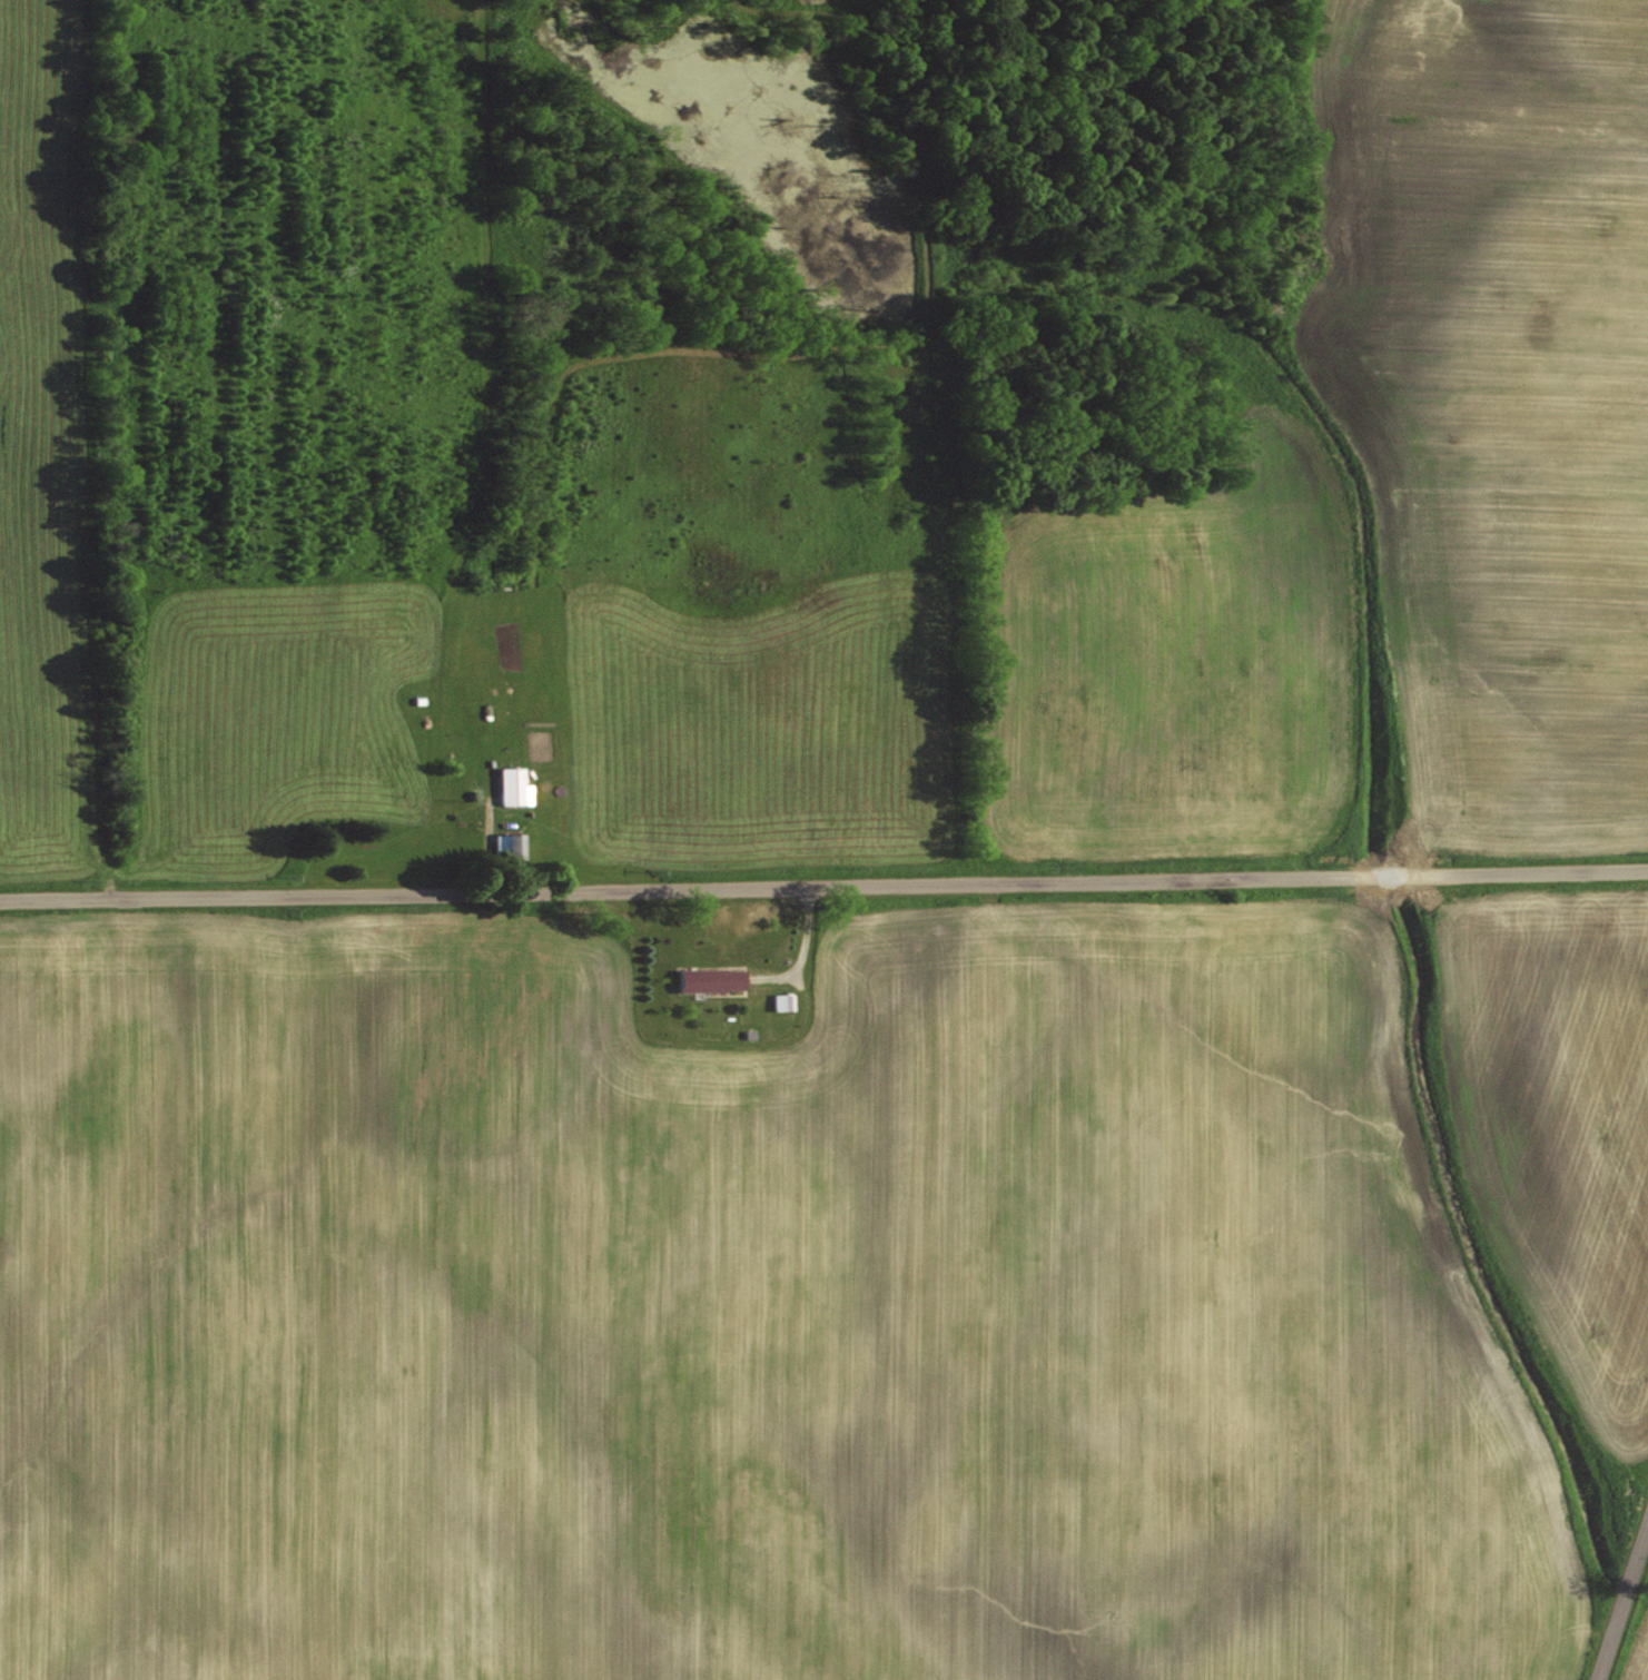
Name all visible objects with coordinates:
crop: (1499, 396)
road: (476, 446)
building: (512, 784)
building: (509, 846)
road: (823, 883)
building: (712, 978)
building: (783, 1000)
road: (1626, 1610)

